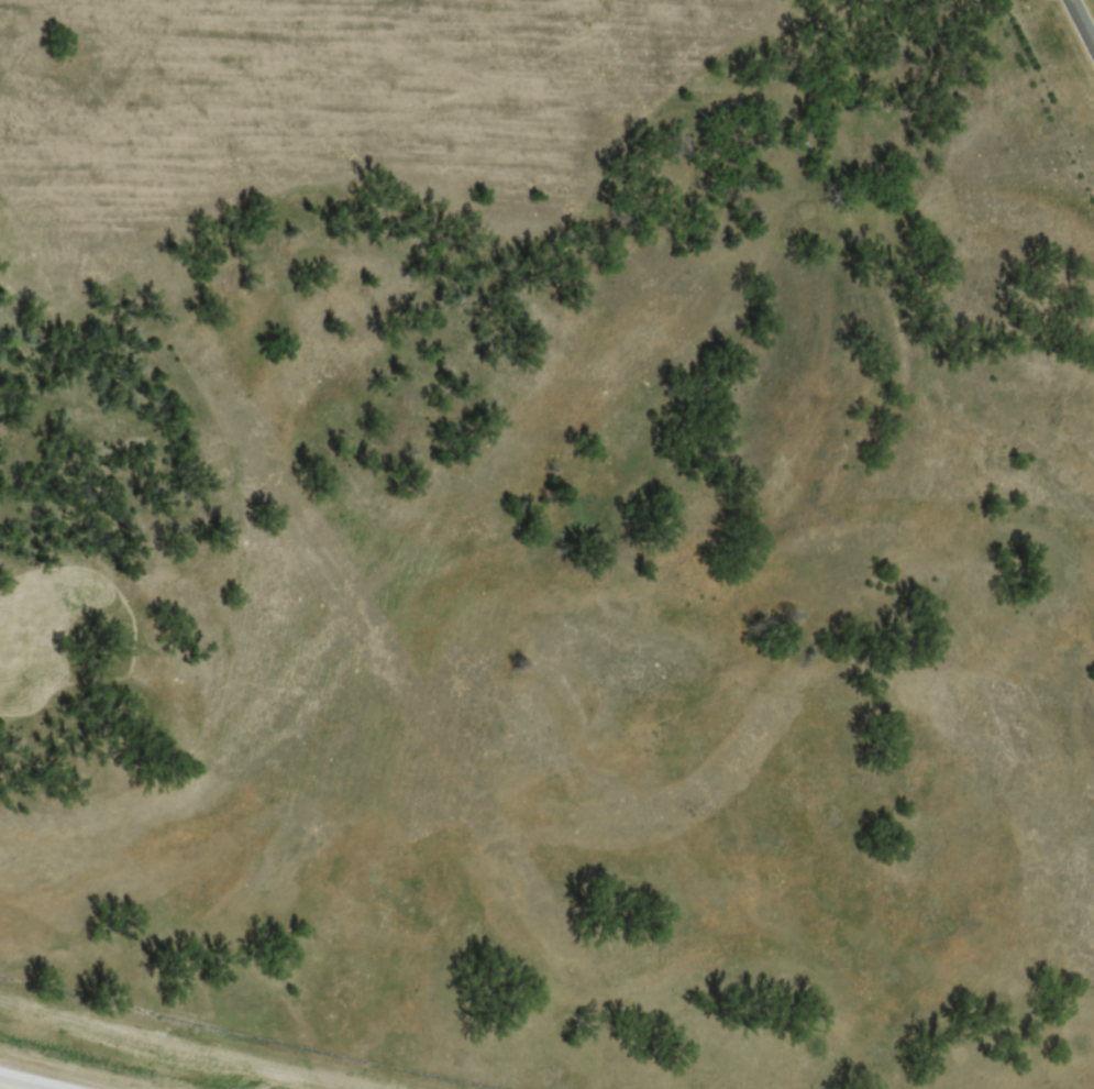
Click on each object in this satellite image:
road: (1083, 19)
road: (8, 1087)

